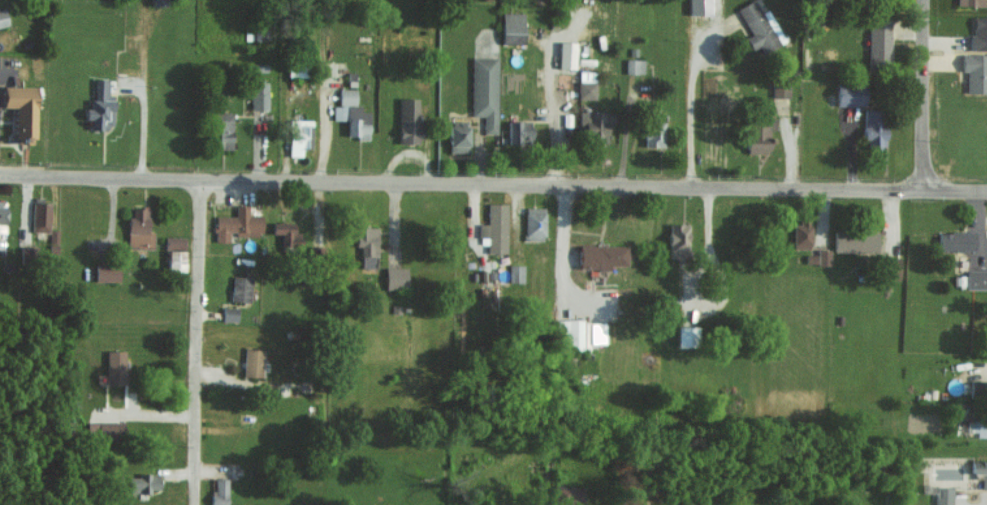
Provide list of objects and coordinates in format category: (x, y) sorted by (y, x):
building: (972, 2)
building: (700, 7)
building: (3, 18)
building: (513, 27)
building: (760, 27)
building: (979, 32)
building: (879, 38)
building: (634, 65)
building: (975, 72)
building: (584, 89)
building: (484, 90)
building: (779, 90)
building: (851, 93)
building: (259, 95)
road: (921, 95)
building: (347, 96)
building: (101, 105)
road: (692, 106)
building: (21, 111)
building: (352, 111)
building: (339, 112)
building: (409, 120)
building: (596, 124)
building: (875, 127)
building: (222, 129)
building: (358, 129)
building: (520, 131)
building: (655, 133)
building: (760, 135)
building: (298, 136)
building: (458, 136)
road: (493, 184)
building: (2, 215)
building: (40, 216)
building: (535, 222)
building: (237, 224)
building: (495, 227)
building: (139, 229)
building: (286, 231)
building: (802, 234)
building: (678, 240)
building: (956, 240)
building: (855, 241)
building: (175, 242)
building: (367, 245)
building: (602, 255)
building: (823, 256)
building: (176, 260)
building: (107, 272)
building: (515, 273)
building: (396, 277)
building: (976, 279)
building: (241, 288)
building: (229, 313)
building: (570, 333)
building: (589, 335)
building: (688, 335)
road: (195, 342)
building: (252, 362)
building: (115, 367)
building: (978, 427)
building: (104, 430)
building: (979, 469)
building: (144, 483)
building: (219, 492)
building: (569, 494)
building: (943, 495)

